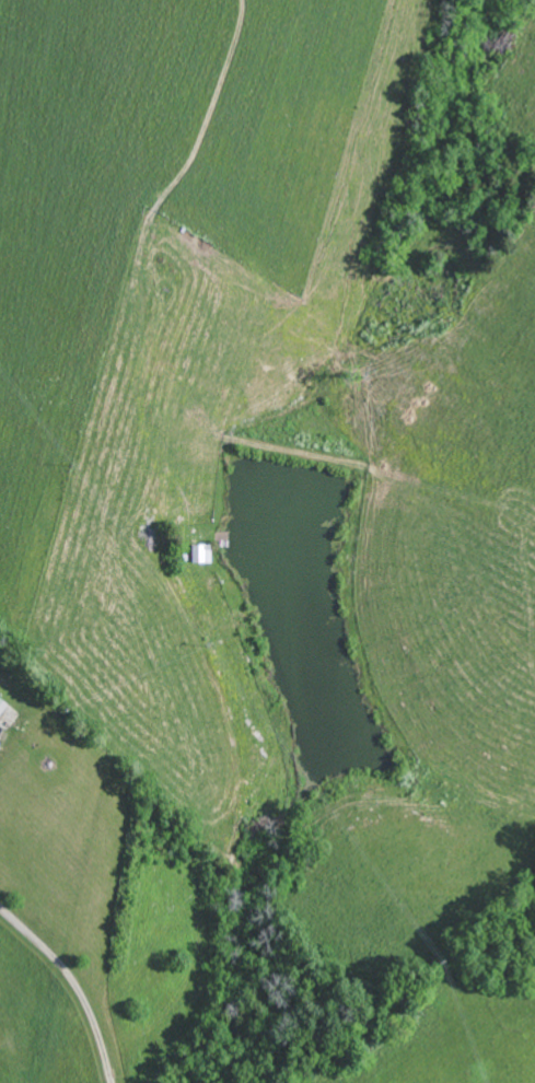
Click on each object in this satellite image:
building: (203, 555)
building: (4, 707)
building: (9, 721)
road: (72, 985)

